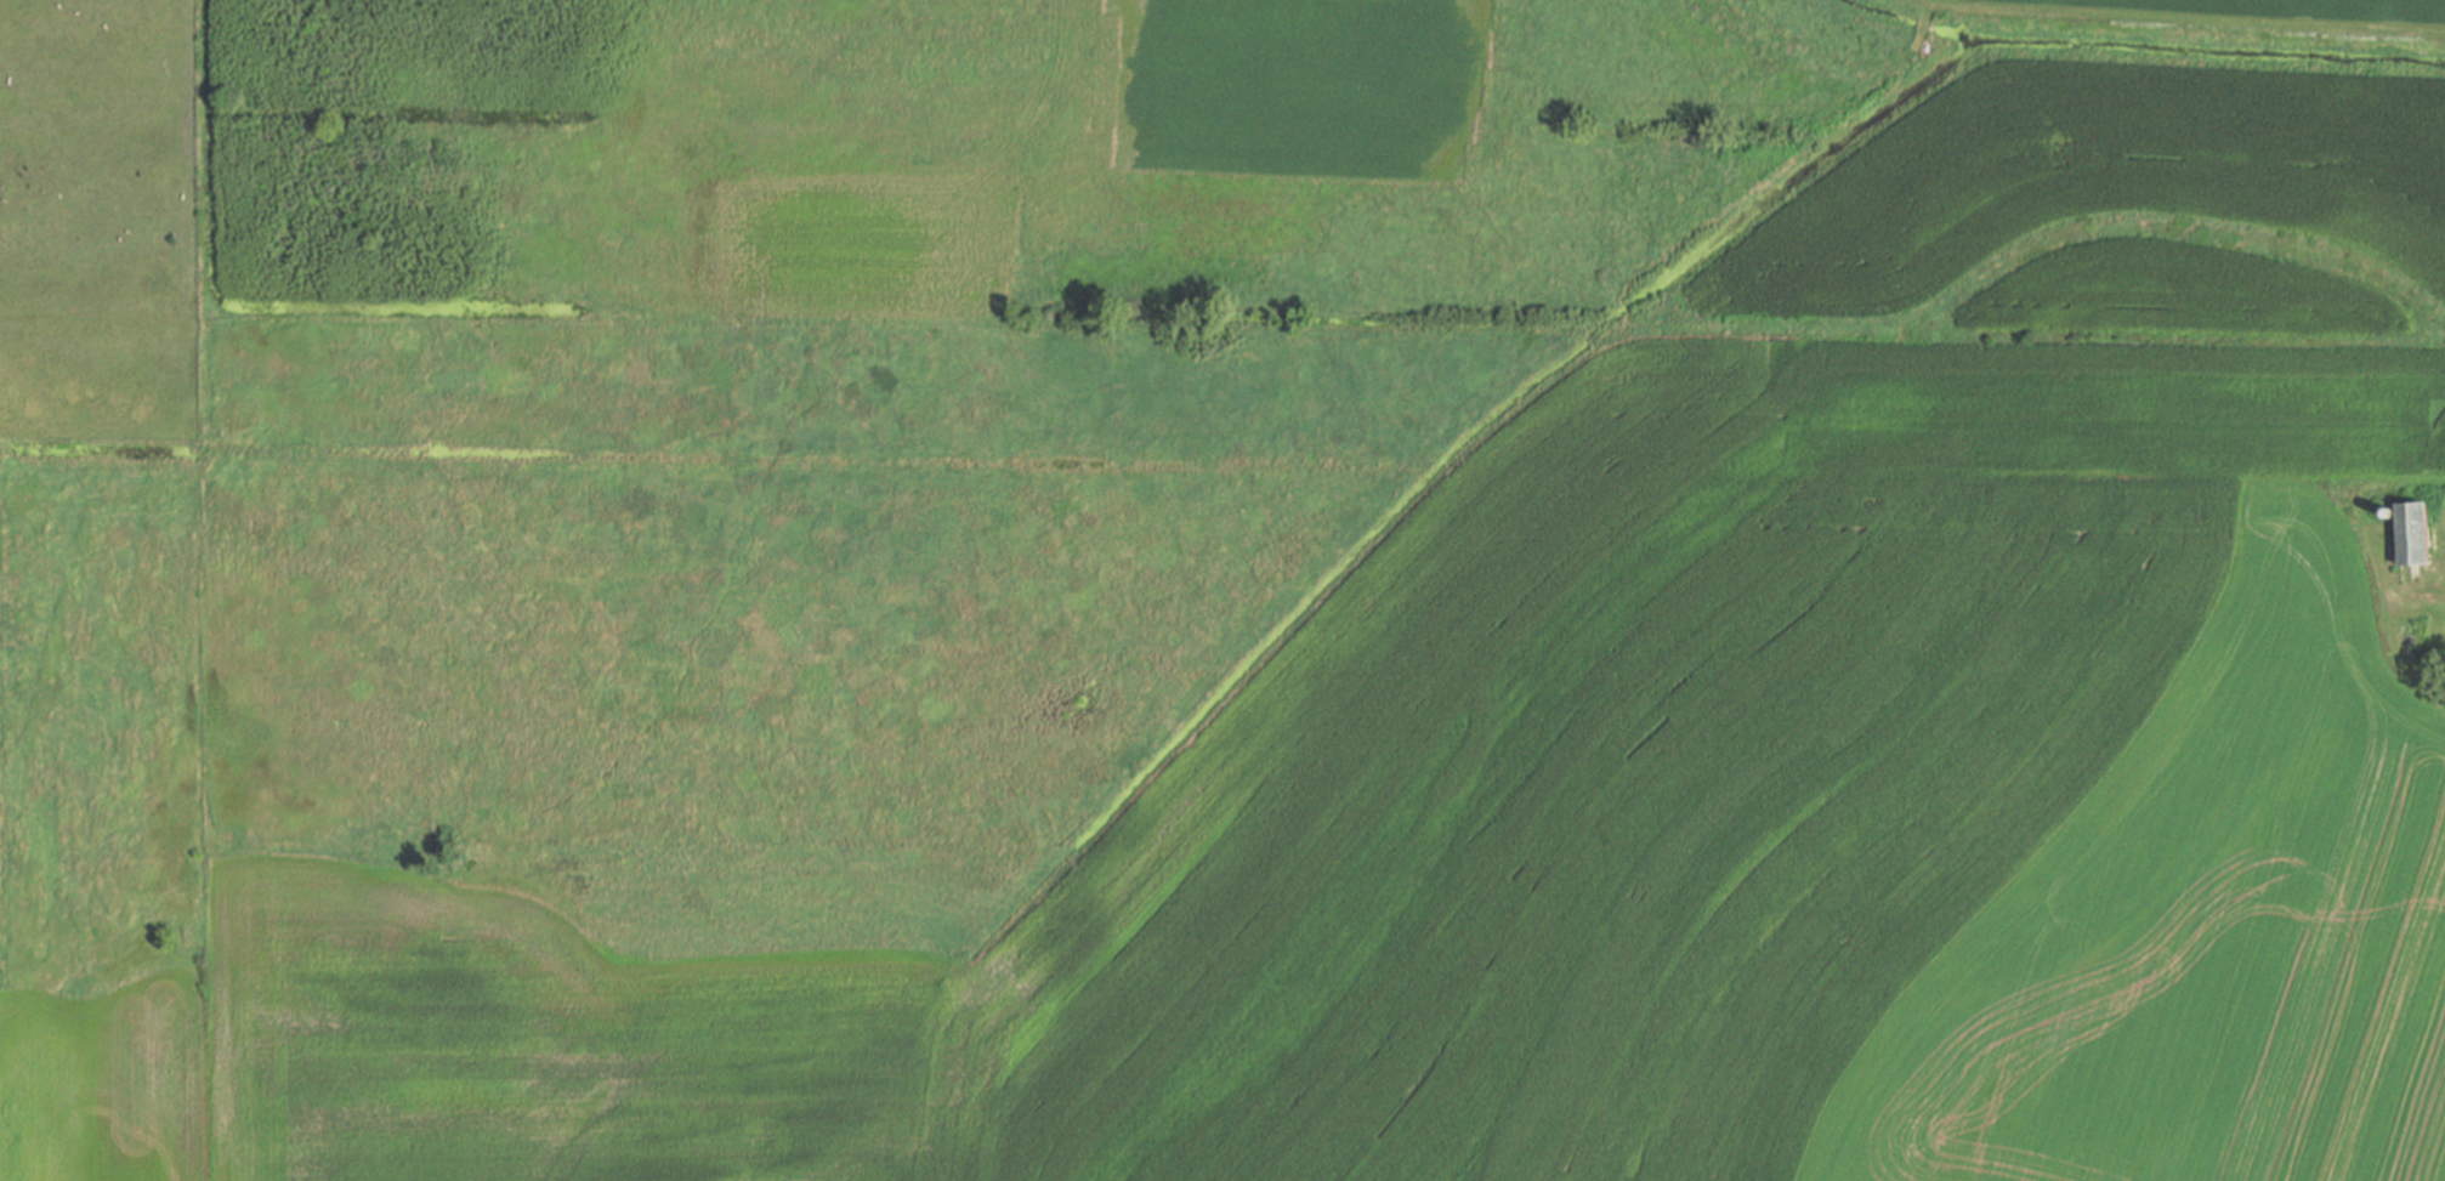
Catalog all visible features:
building: (2415, 533)
building: (2435, 637)

